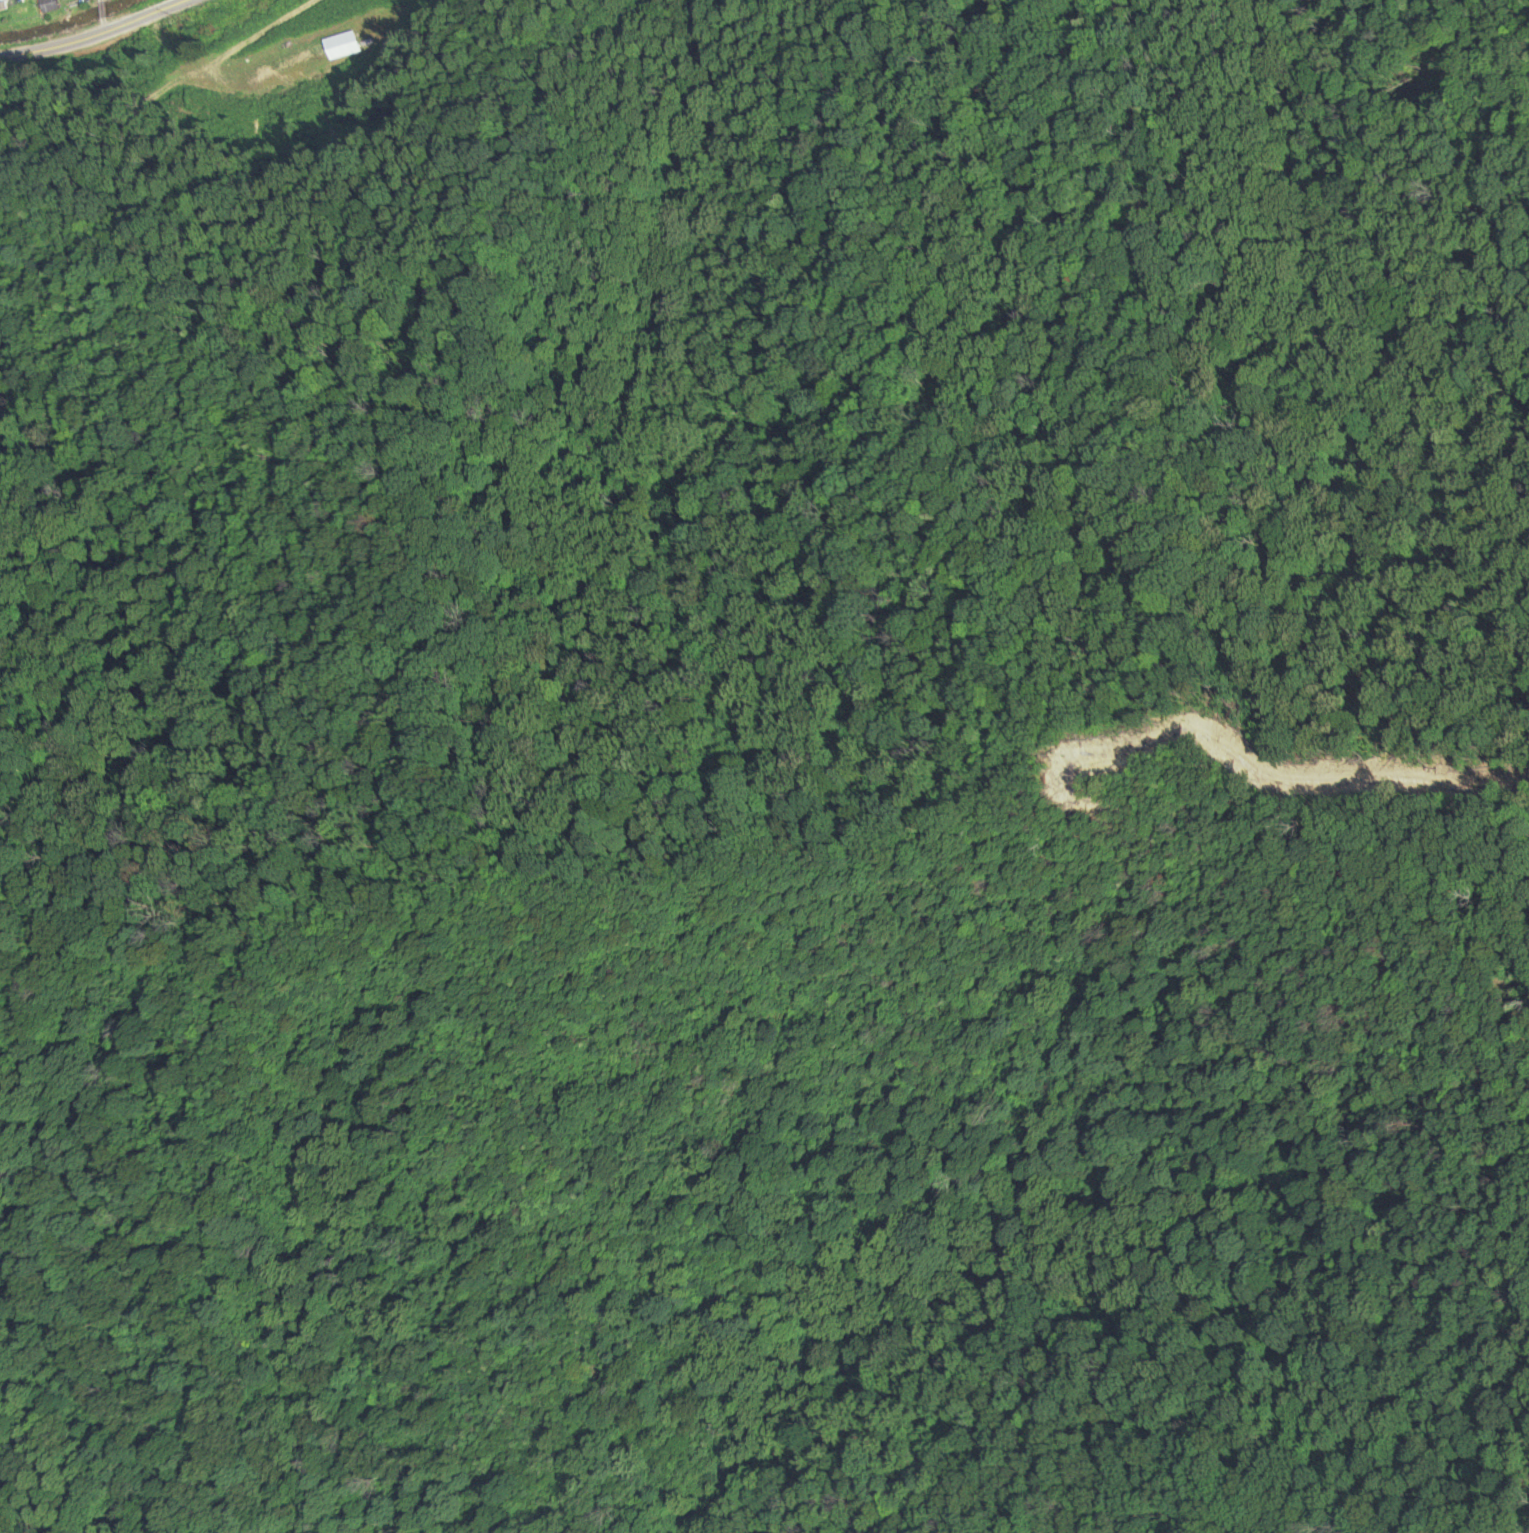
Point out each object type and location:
road: (98, 35)
road: (1331, 40)

